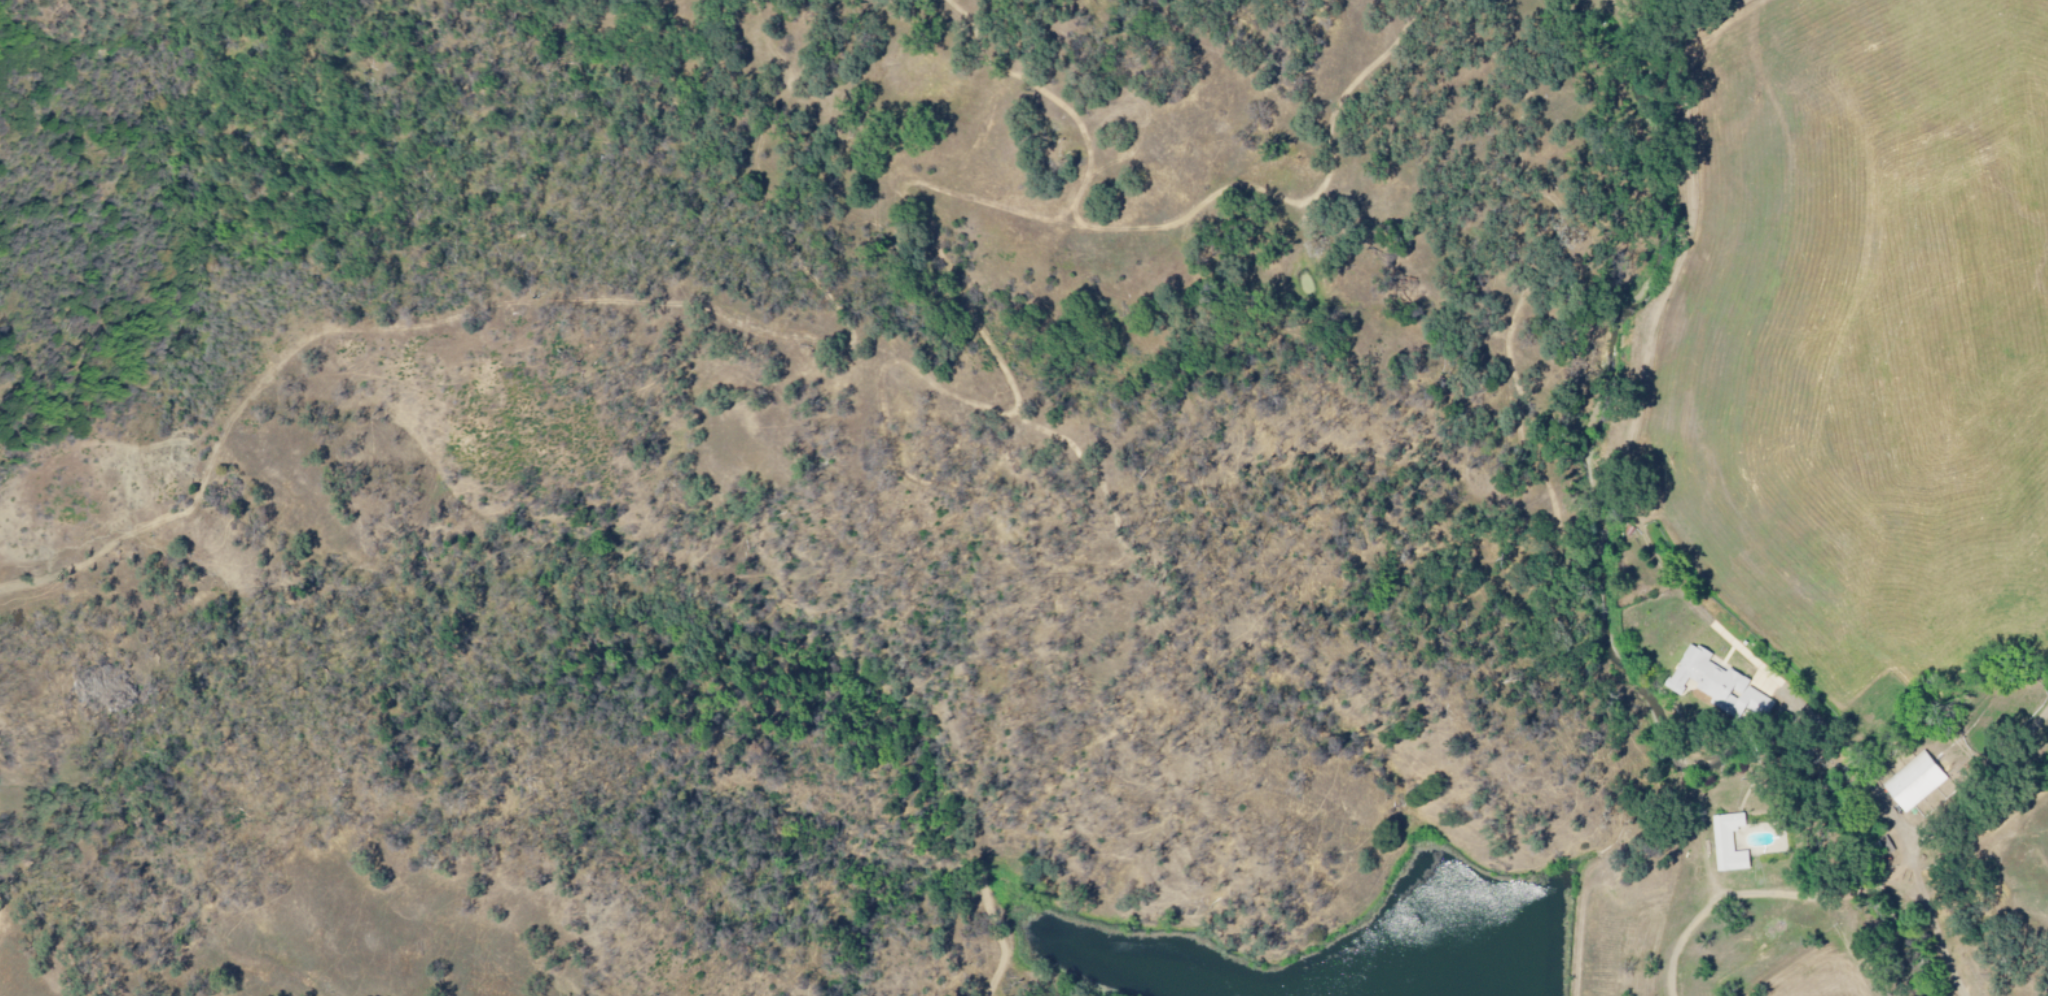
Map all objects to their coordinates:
building: (1713, 685)
building: (1908, 781)
building: (1723, 842)

